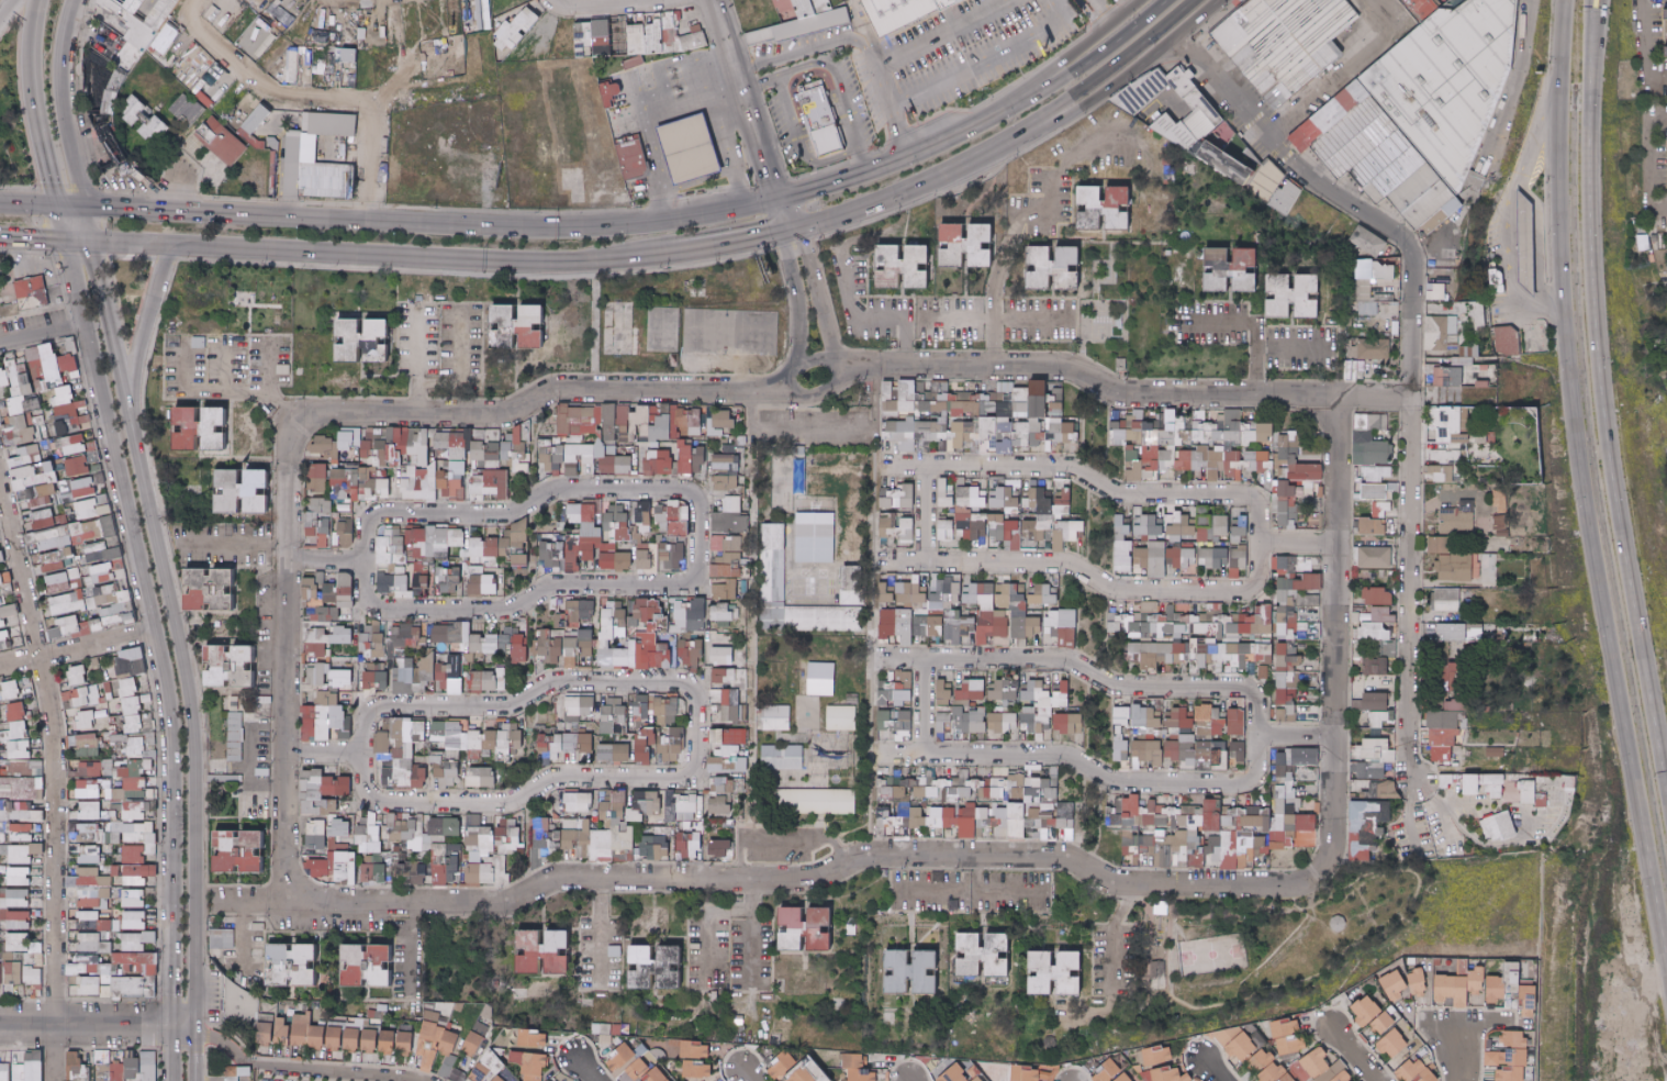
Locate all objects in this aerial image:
gas station: (682, 149)
gas station: (1522, 239)
park: (1191, 265)
park: (557, 323)
park: (615, 326)
park: (660, 328)
park: (727, 330)
parking lot: (436, 338)
park: (152, 390)
park: (1311, 938)
park: (444, 955)

